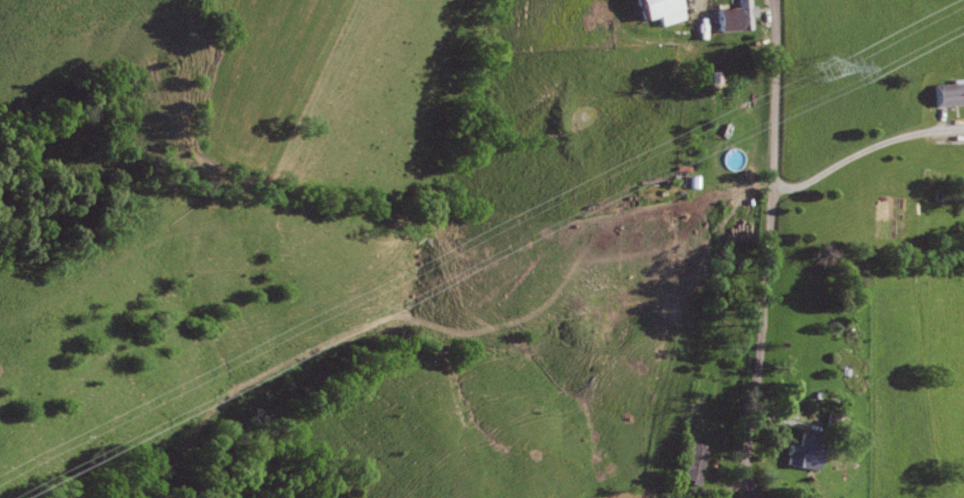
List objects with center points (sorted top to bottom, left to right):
building: (656, 10)
building: (733, 17)
power tower: (827, 69)
building: (947, 94)
road: (865, 150)
road: (770, 251)
building: (690, 463)

